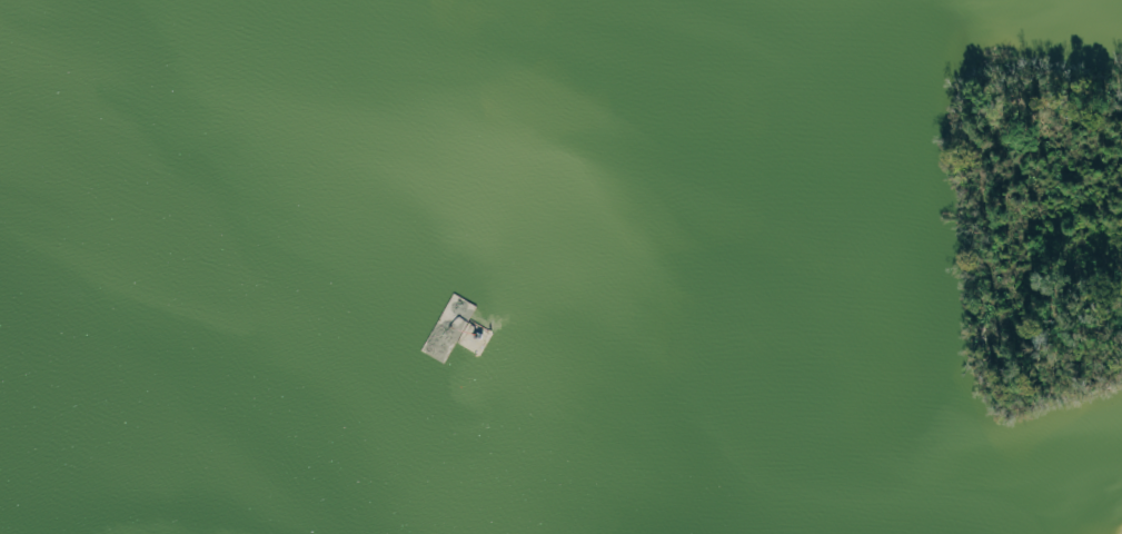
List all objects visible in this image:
river: (143, 363)

